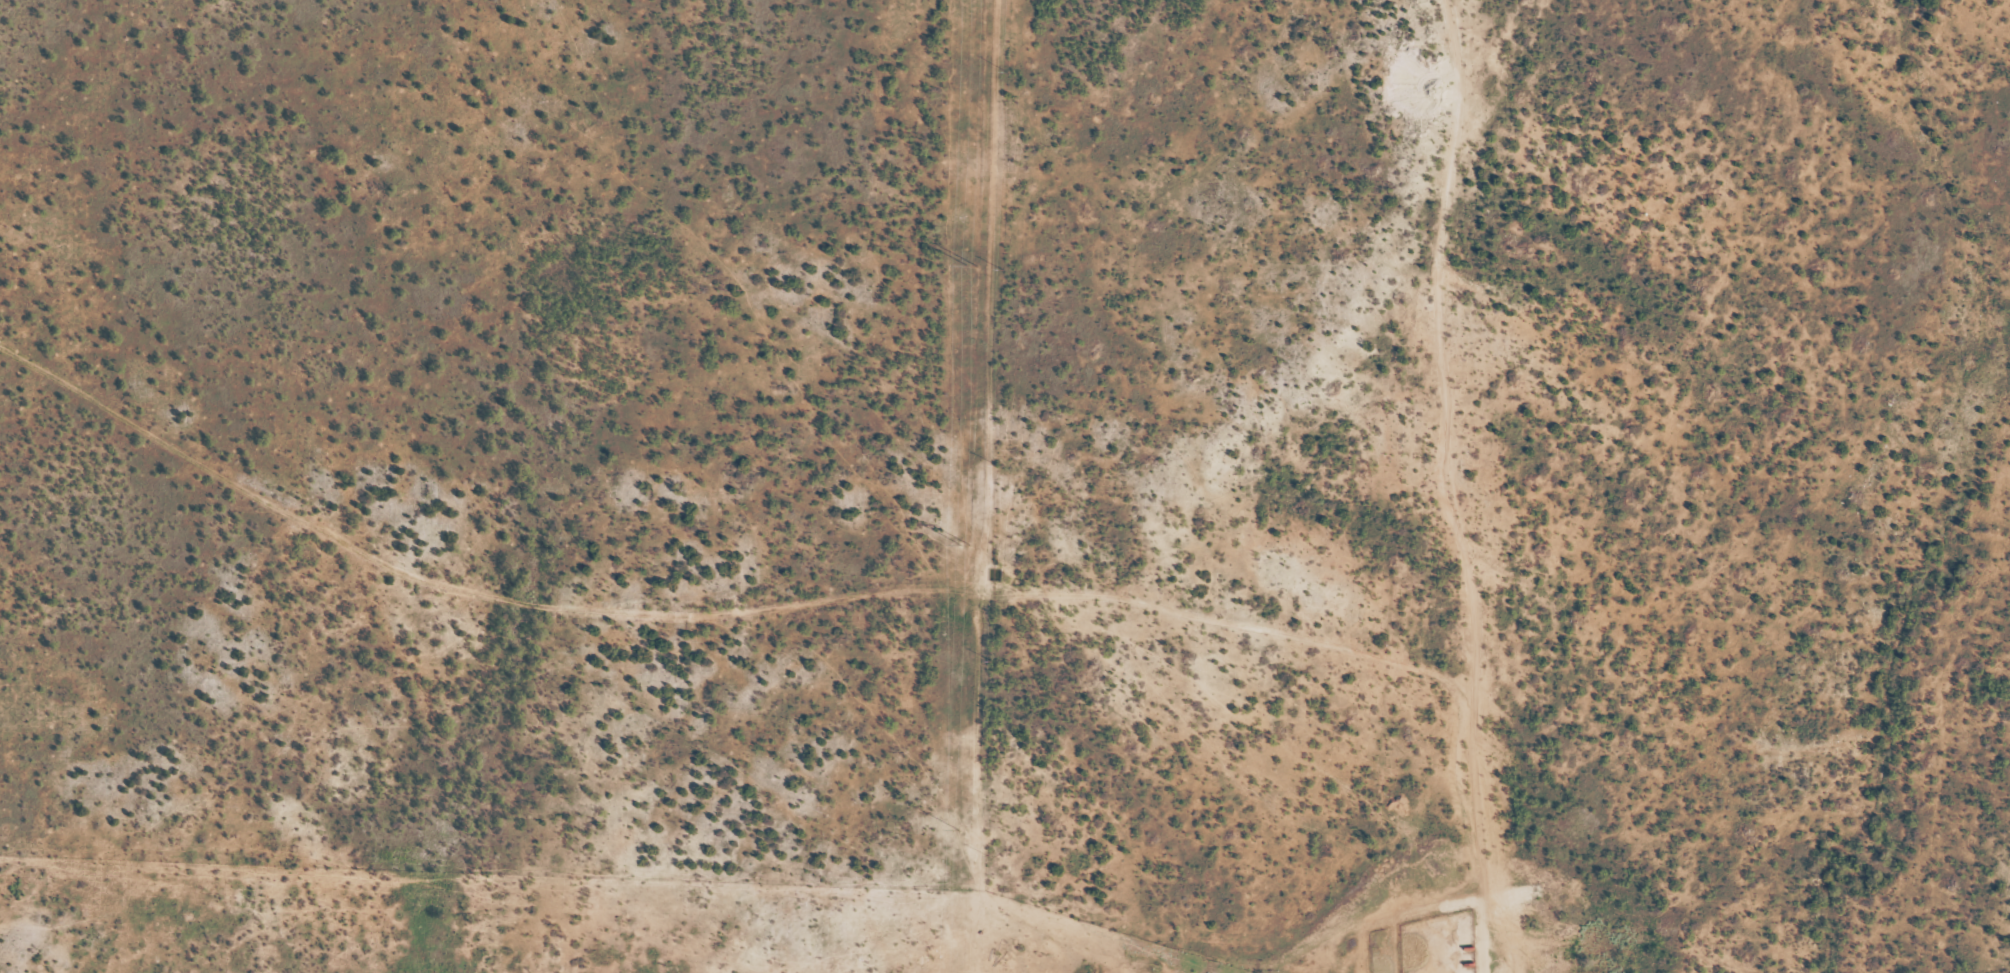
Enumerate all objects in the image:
power tower: (973, 264)
road: (1437, 487)
power tower: (966, 544)

